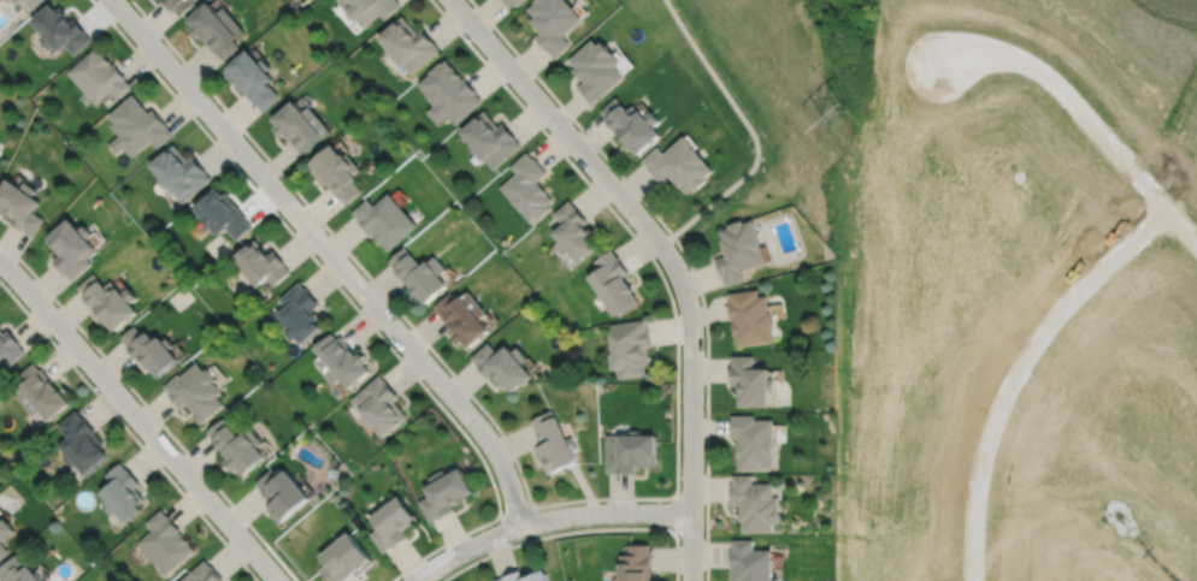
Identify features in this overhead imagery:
building: (8, 0)
building: (28, 2)
building: (512, 2)
building: (178, 5)
building: (367, 8)
building: (553, 23)
building: (60, 30)
building: (214, 30)
building: (407, 46)
building: (596, 71)
building: (99, 77)
building: (250, 81)
park: (757, 82)
road: (1057, 93)
building: (448, 94)
power tower: (833, 117)
building: (632, 126)
building: (136, 128)
building: (297, 128)
road: (751, 131)
building: (490, 141)
road: (576, 146)
road: (608, 160)
road: (234, 165)
building: (679, 167)
building: (179, 170)
building: (335, 174)
building: (529, 185)
building: (20, 208)
building: (222, 211)
building: (385, 218)
building: (576, 230)
road: (1178, 230)
building: (739, 249)
building: (72, 250)
road: (330, 255)
building: (261, 261)
building: (421, 272)
building: (615, 280)
building: (108, 298)
building: (300, 310)
building: (466, 315)
building: (750, 315)
building: (10, 345)
building: (632, 345)
building: (151, 348)
building: (341, 360)
building: (506, 363)
road: (1007, 366)
building: (750, 380)
building: (196, 390)
building: (40, 391)
building: (381, 404)
road: (149, 409)
road: (138, 420)
road: (128, 431)
road: (691, 440)
building: (754, 440)
building: (82, 441)
building: (556, 441)
building: (238, 445)
building: (632, 451)
road: (707, 461)
road: (485, 467)
building: (123, 492)
building: (282, 492)
building: (446, 492)
road: (570, 502)
building: (754, 502)
road: (515, 511)
road: (676, 514)
road: (546, 520)
building: (393, 522)
road: (577, 530)
building: (5, 535)
building: (166, 541)
building: (346, 558)
building: (750, 562)
building: (637, 563)
building: (18, 570)
building: (204, 573)
building: (527, 576)

